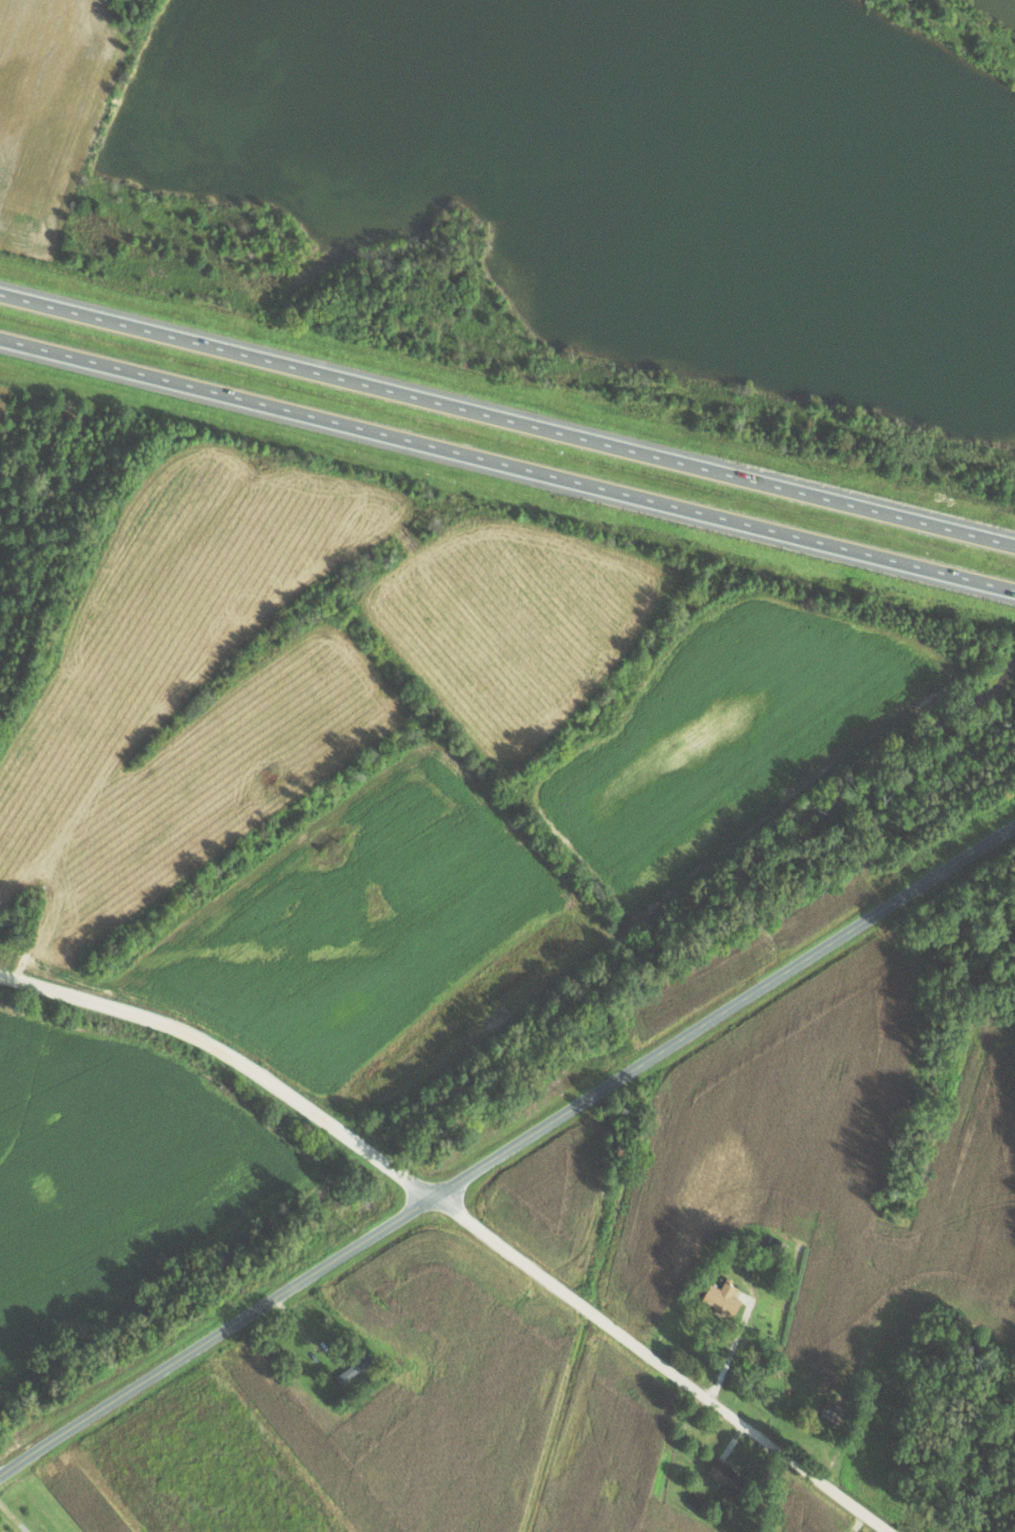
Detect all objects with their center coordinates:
crop: (51, 112)
road: (507, 418)
road: (507, 464)
road: (506, 1149)
road: (463, 1219)
building: (722, 1298)
building: (353, 1368)
building: (725, 1475)
building: (694, 1500)

